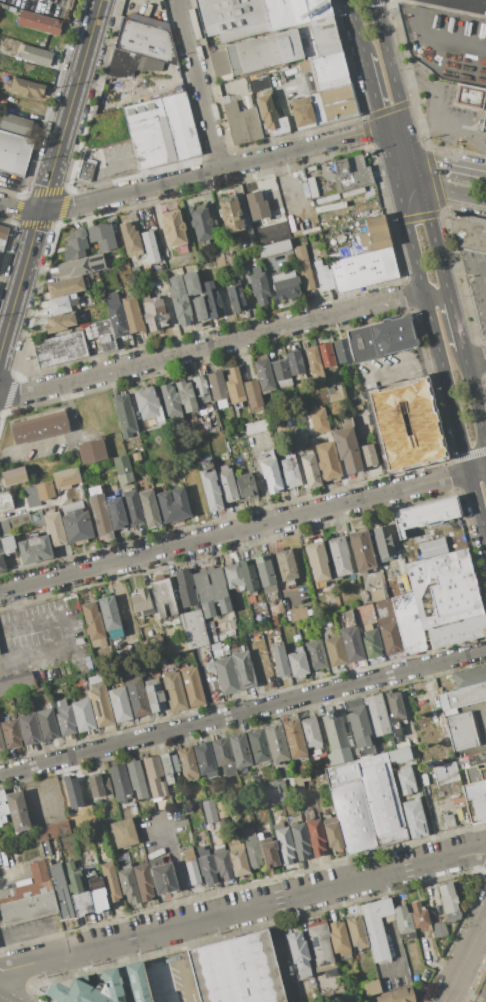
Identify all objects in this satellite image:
road: (477, 2)
road: (468, 3)
building: (67, 9)
building: (294, 11)
building: (231, 19)
building: (39, 23)
road: (356, 26)
building: (325, 36)
road: (438, 40)
building: (145, 41)
building: (263, 52)
road: (386, 52)
building: (36, 54)
building: (219, 63)
road: (79, 71)
building: (329, 71)
building: (305, 78)
building: (259, 81)
road: (200, 85)
building: (26, 87)
building: (469, 96)
building: (337, 102)
road: (435, 109)
building: (306, 110)
building: (270, 115)
road: (379, 116)
traffic signals: (404, 121)
building: (240, 122)
building: (16, 124)
road: (393, 124)
traffic signals: (382, 127)
road: (421, 128)
building: (162, 131)
road: (58, 149)
building: (14, 153)
road: (414, 160)
traffic signals: (414, 160)
road: (449, 167)
building: (86, 170)
road: (404, 170)
road: (212, 172)
building: (351, 173)
traffic signals: (395, 180)
road: (48, 183)
road: (407, 183)
traffic signals: (420, 186)
road: (453, 192)
building: (257, 204)
road: (20, 209)
building: (229, 213)
building: (148, 216)
building: (200, 223)
building: (174, 230)
building: (3, 232)
building: (468, 232)
building: (374, 235)
building: (101, 236)
road: (33, 237)
building: (130, 238)
building: (75, 245)
building: (150, 246)
building: (274, 248)
building: (348, 252)
road: (438, 257)
road: (13, 258)
building: (224, 261)
building: (83, 265)
road: (463, 265)
building: (304, 267)
building: (363, 269)
building: (134, 271)
building: (192, 271)
road: (23, 272)
building: (323, 276)
building: (190, 282)
building: (285, 283)
parking lot: (476, 283)
road: (483, 283)
building: (259, 285)
building: (66, 286)
building: (235, 296)
road: (437, 297)
building: (212, 300)
building: (68, 303)
building: (180, 303)
building: (198, 308)
building: (153, 312)
building: (132, 314)
road: (10, 315)
building: (117, 315)
building: (60, 322)
road: (456, 326)
building: (89, 330)
building: (105, 335)
building: (380, 339)
road: (212, 345)
building: (60, 349)
building: (342, 351)
building: (325, 356)
road: (474, 356)
road: (440, 358)
building: (311, 361)
building: (295, 366)
road: (400, 369)
building: (281, 373)
building: (264, 375)
building: (234, 386)
building: (201, 389)
building: (217, 389)
building: (336, 393)
building: (253, 395)
building: (186, 396)
building: (322, 397)
road: (474, 398)
building: (170, 403)
building: (147, 406)
building: (358, 407)
building: (125, 415)
building: (291, 420)
building: (230, 421)
building: (318, 421)
building: (406, 424)
building: (40, 426)
building: (209, 427)
building: (256, 427)
road: (61, 436)
building: (347, 449)
building: (92, 451)
building: (368, 454)
building: (136, 456)
building: (327, 460)
road: (477, 469)
building: (122, 470)
building: (310, 470)
building: (290, 472)
building: (271, 474)
building: (13, 476)
building: (65, 479)
building: (227, 483)
building: (245, 486)
building: (44, 490)
building: (79, 490)
building: (210, 491)
building: (30, 495)
building: (5, 501)
building: (173, 504)
building: (132, 507)
building: (149, 508)
building: (116, 512)
building: (99, 513)
building: (425, 514)
building: (36, 519)
building: (76, 522)
building: (13, 523)
building: (54, 528)
road: (234, 531)
building: (383, 543)
building: (8, 544)
building: (1, 547)
building: (431, 547)
building: (34, 549)
building: (361, 551)
building: (338, 557)
building: (2, 561)
building: (317, 563)
building: (286, 567)
building: (431, 568)
building: (264, 570)
building: (232, 575)
building: (248, 577)
building: (185, 587)
building: (210, 587)
building: (398, 587)
building: (454, 590)
building: (376, 595)
building: (163, 596)
road: (124, 602)
building: (141, 602)
road: (18, 604)
building: (109, 613)
building: (298, 613)
building: (274, 620)
building: (414, 620)
building: (93, 623)
building: (387, 628)
building: (193, 629)
building: (457, 631)
road: (67, 635)
building: (256, 635)
building: (350, 637)
building: (371, 641)
building: (153, 642)
building: (175, 645)
building: (215, 646)
building: (225, 650)
building: (334, 650)
building: (315, 655)
building: (161, 660)
building: (279, 661)
building: (87, 663)
building: (297, 663)
building: (242, 667)
building: (226, 675)
building: (469, 676)
building: (16, 684)
building: (191, 686)
building: (173, 690)
building: (136, 693)
building: (154, 695)
building: (463, 696)
building: (99, 700)
building: (119, 703)
road: (473, 705)
building: (395, 711)
road: (243, 712)
building: (450, 712)
building: (376, 714)
building: (83, 715)
building: (65, 718)
building: (47, 724)
building: (29, 729)
building: (359, 730)
building: (461, 731)
building: (310, 732)
building: (11, 734)
building: (293, 738)
building: (335, 738)
building: (1, 744)
building: (276, 744)
building: (402, 744)
building: (258, 746)
building: (239, 750)
building: (399, 754)
building: (223, 756)
building: (476, 758)
building: (204, 759)
building: (187, 763)
building: (169, 767)
building: (446, 773)
building: (475, 773)
building: (154, 777)
building: (137, 779)
building: (405, 779)
building: (119, 780)
building: (288, 780)
building: (428, 782)
building: (300, 783)
building: (322, 783)
building: (97, 785)
building: (275, 791)
building: (457, 791)
building: (72, 792)
building: (476, 798)
building: (365, 803)
building: (3, 807)
building: (210, 810)
building: (17, 812)
building: (222, 817)
building: (413, 817)
building: (449, 820)
building: (52, 830)
building: (314, 832)
building: (331, 832)
building: (124, 834)
building: (299, 837)
building: (284, 843)
building: (252, 847)
building: (267, 847)
building: (237, 857)
building: (221, 860)
building: (206, 864)
building: (191, 866)
road: (177, 867)
building: (38, 871)
building: (162, 876)
road: (12, 877)
building: (110, 881)
building: (144, 881)
building: (128, 884)
building: (78, 889)
building: (28, 890)
building: (97, 894)
building: (448, 901)
building: (27, 907)
road: (242, 909)
building: (419, 915)
building: (404, 924)
building: (377, 927)
building: (439, 929)
road: (30, 932)
building: (357, 933)
road: (392, 935)
building: (340, 938)
building: (320, 947)
building: (300, 953)
road: (464, 956)
road: (1, 967)
road: (160, 967)
building: (237, 970)
road: (473, 972)
building: (137, 981)
building: (370, 987)
building: (86, 988)
building: (396, 995)
road: (4, 999)

